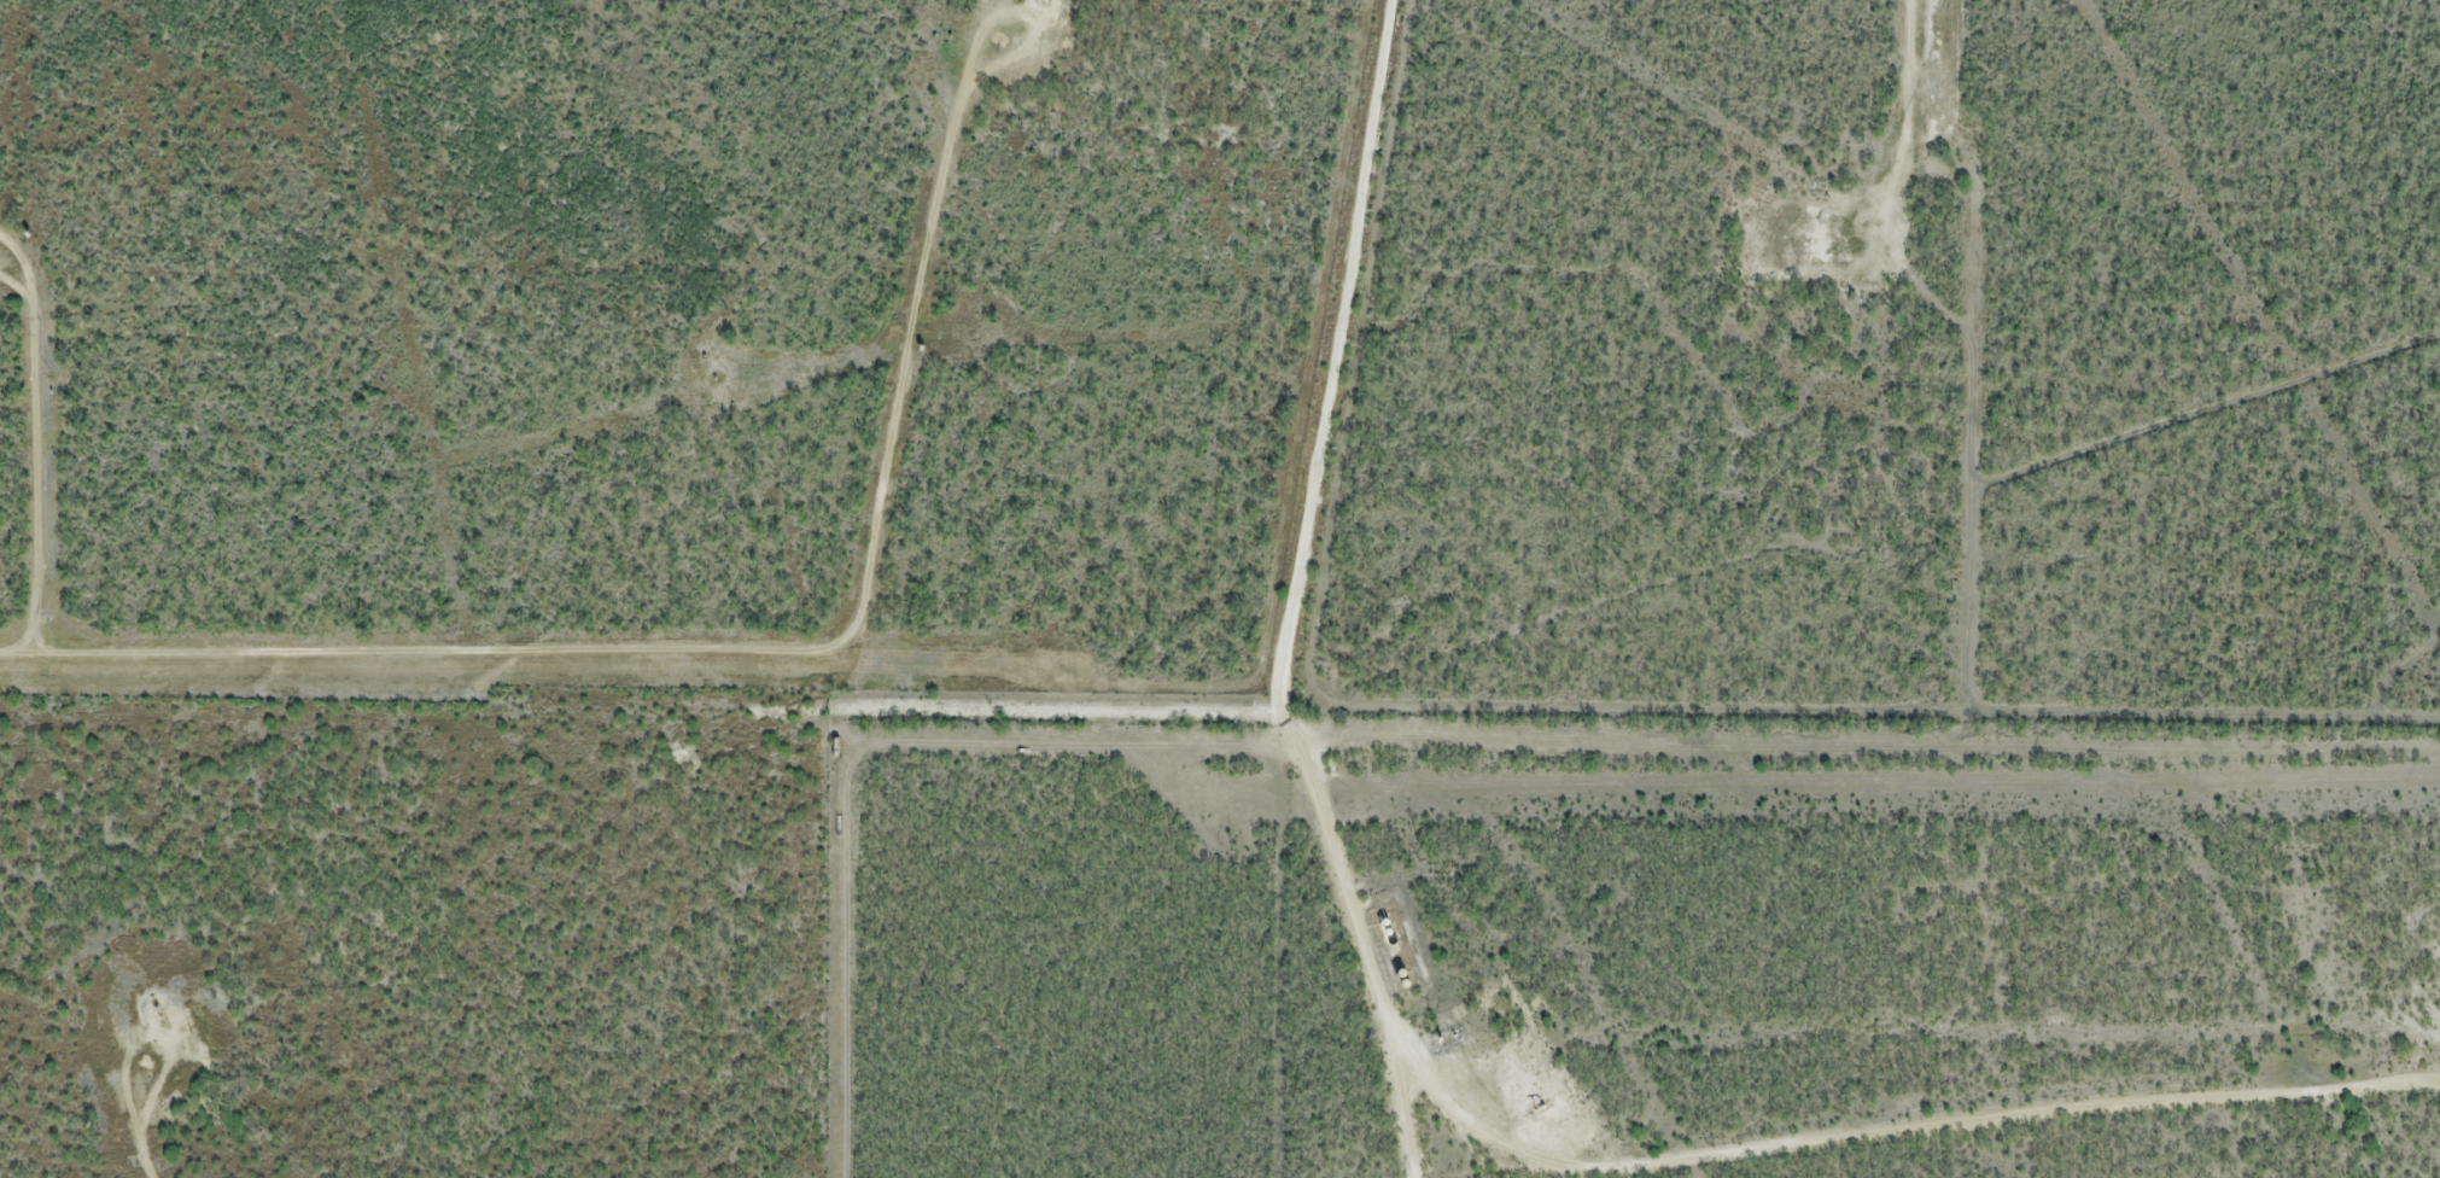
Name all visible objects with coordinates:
road: (1326, 352)
road: (1355, 938)
road: (140, 1108)

